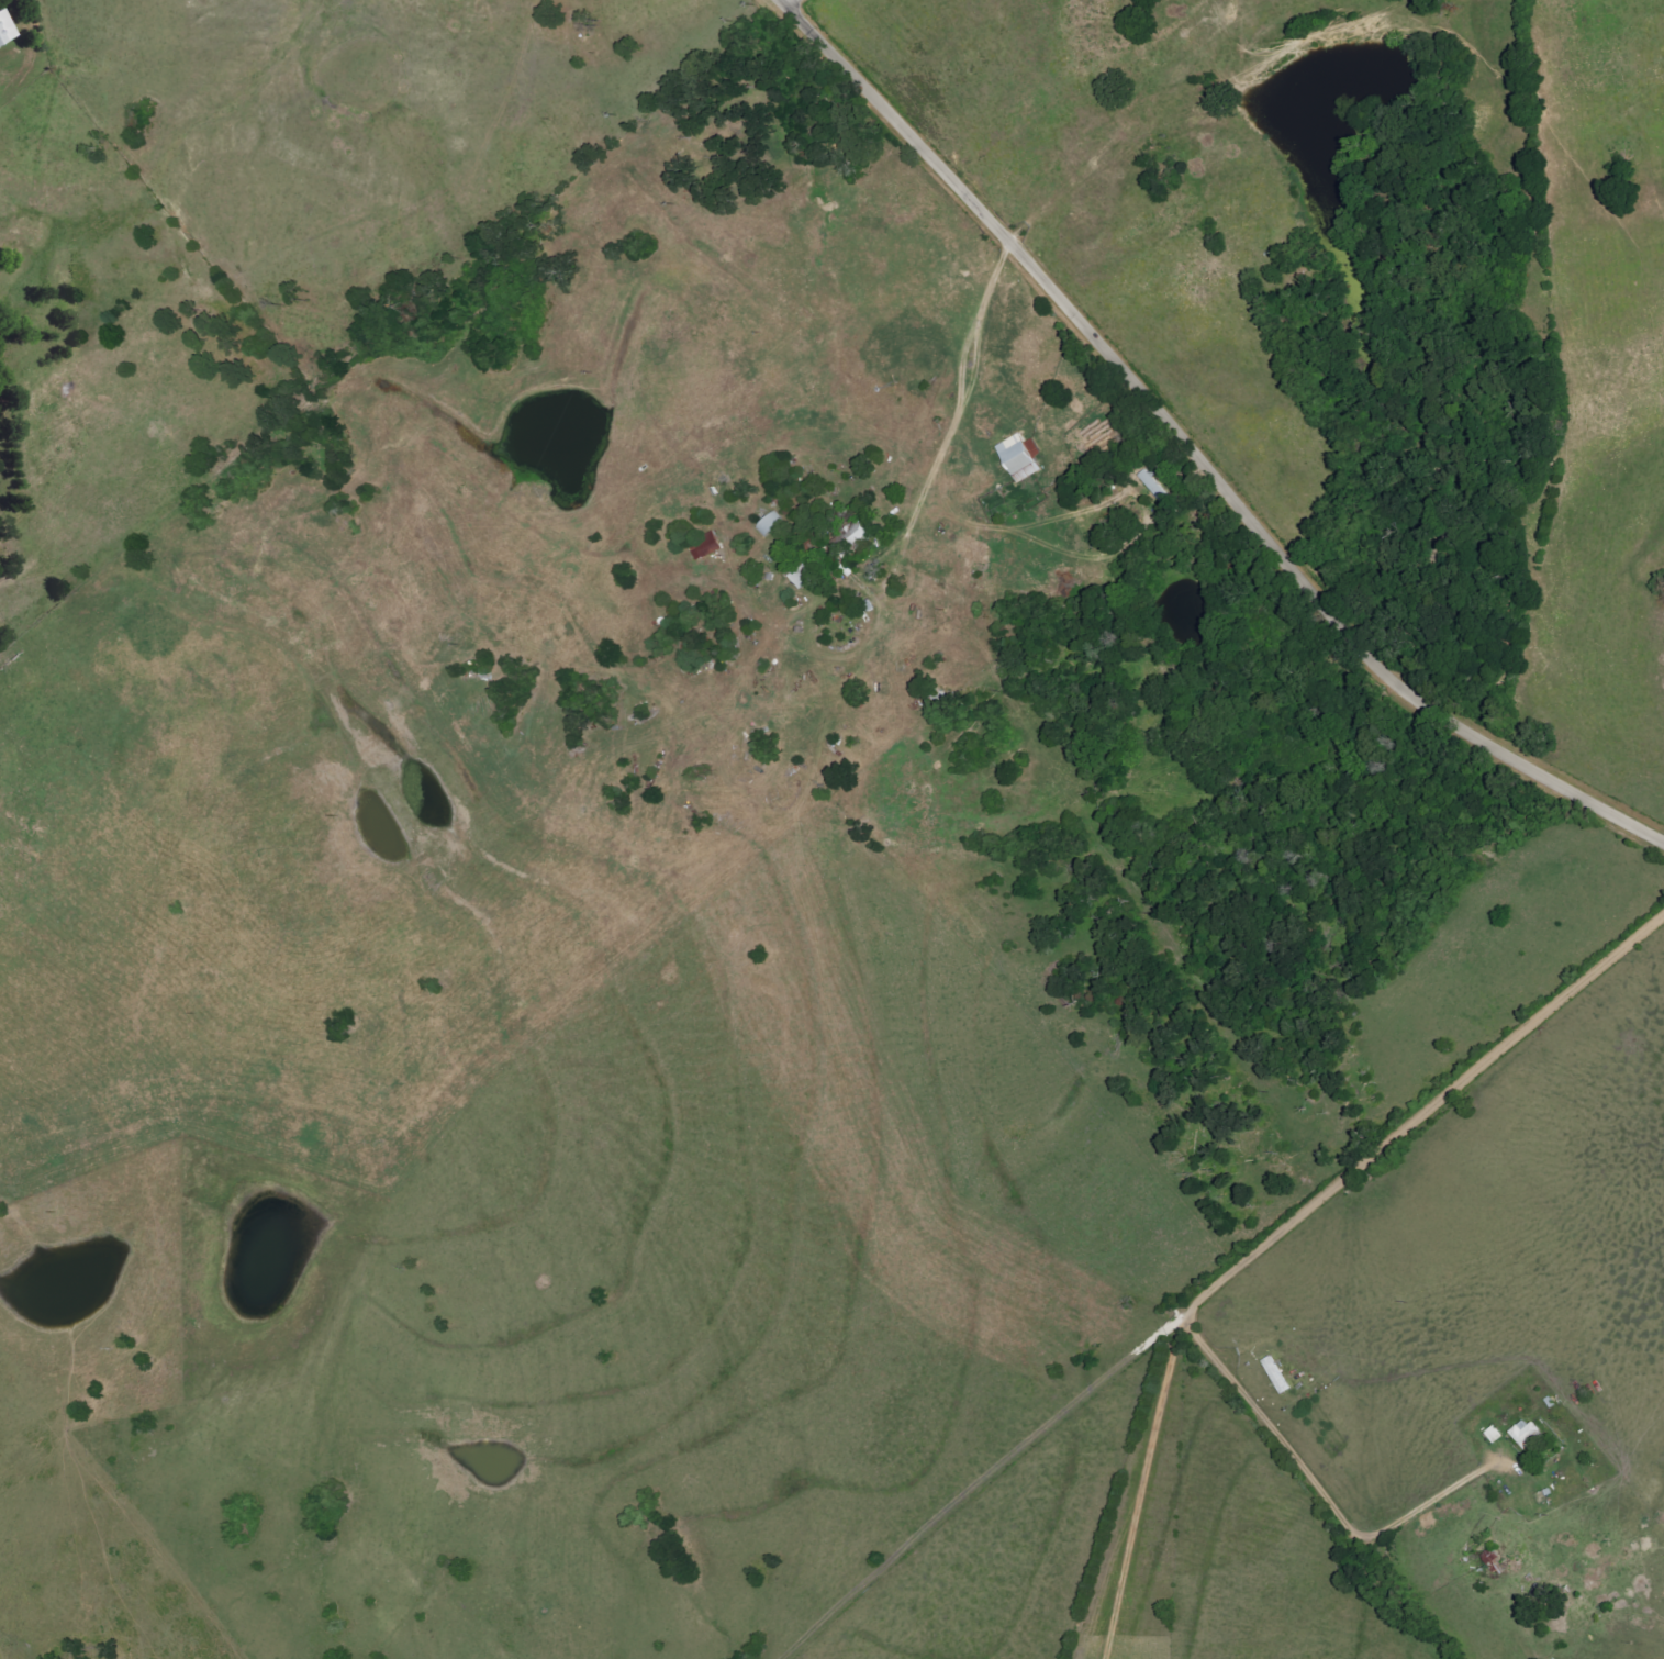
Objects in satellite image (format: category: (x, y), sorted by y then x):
road: (793, 2)
building: (3, 29)
road: (1003, 266)
road: (1199, 450)
building: (1016, 459)
building: (1152, 486)
building: (704, 548)
road: (1428, 1118)
building: (1280, 1377)
road: (1280, 1435)
building: (1528, 1435)
road: (1146, 1485)
road: (1444, 1499)

